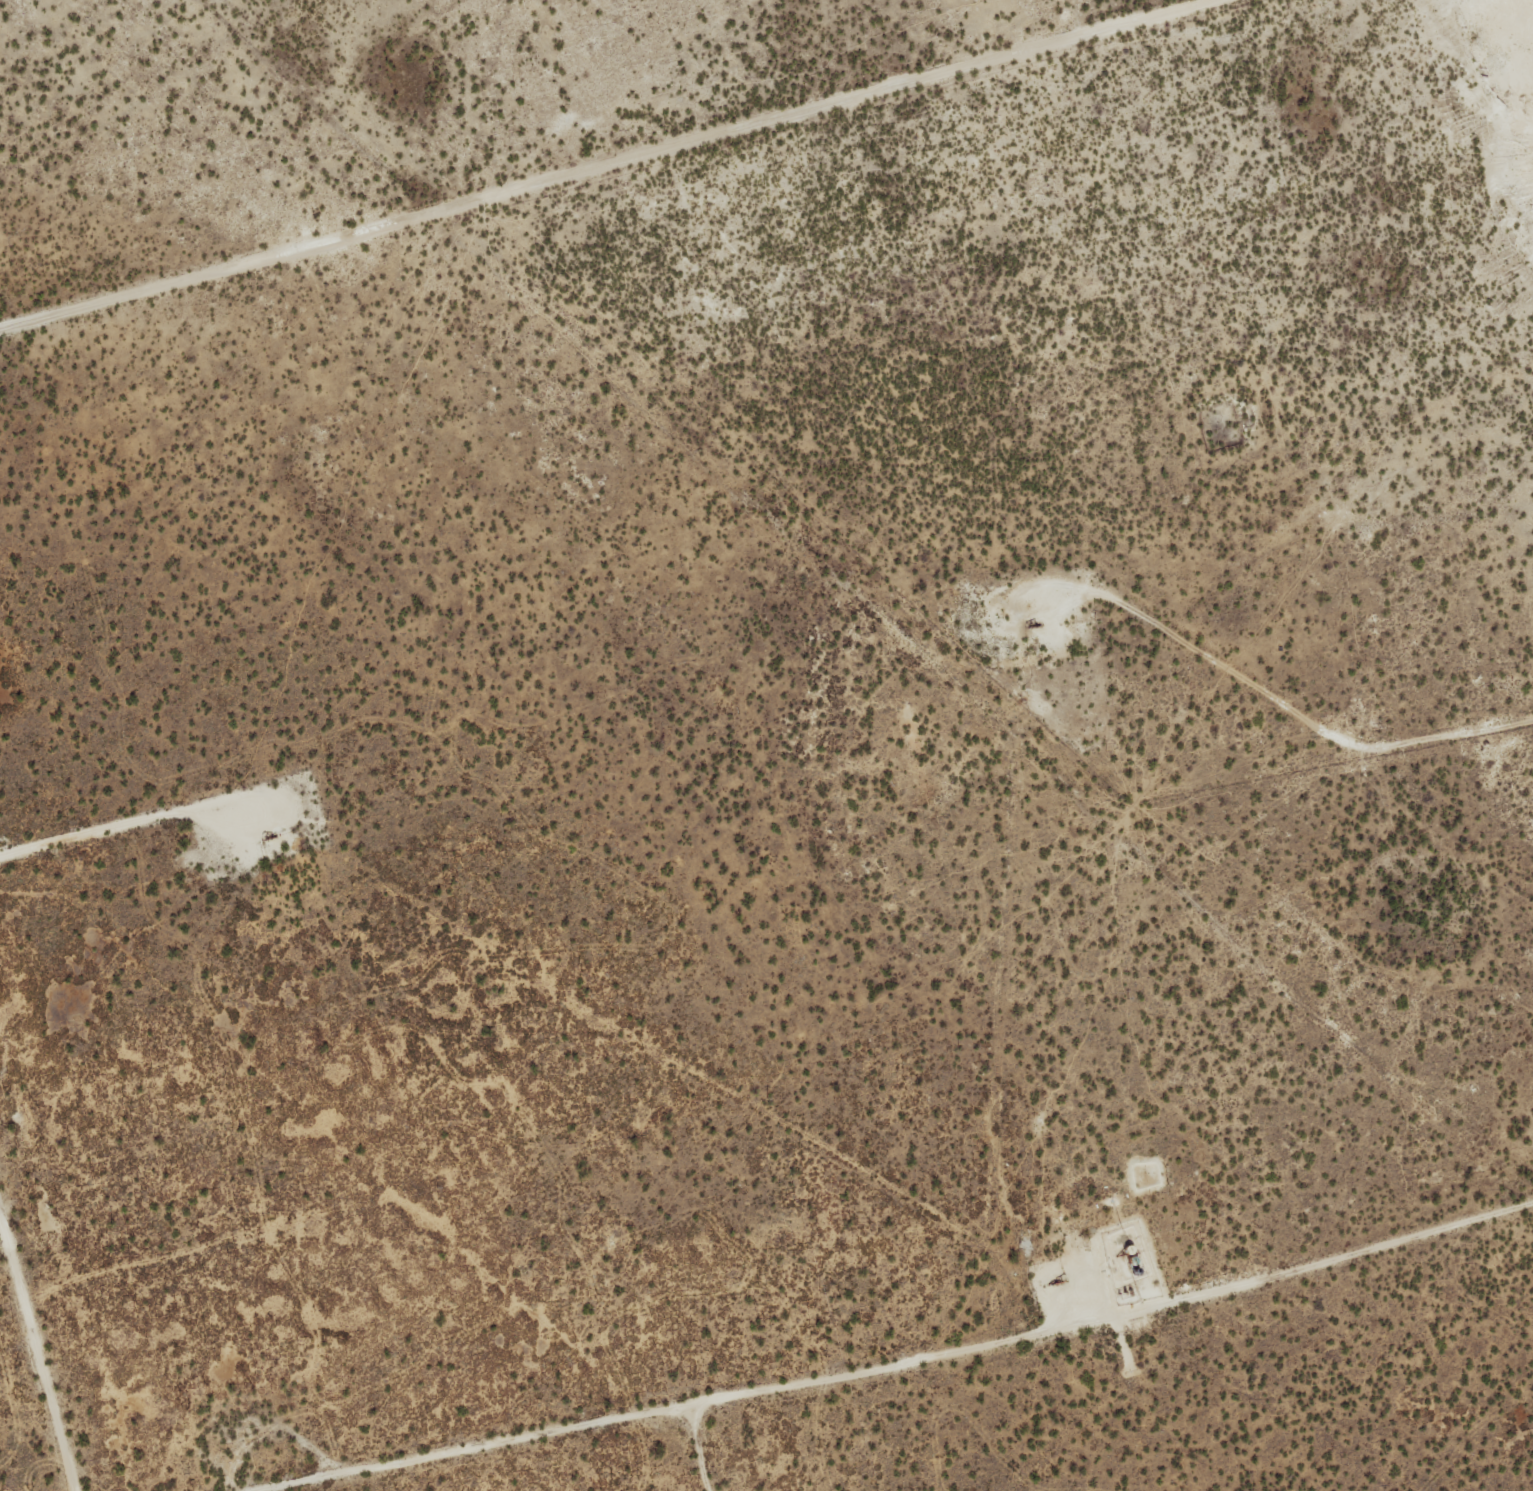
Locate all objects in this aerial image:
road: (612, 166)
road: (36, 1353)
road: (892, 1367)
road: (698, 1449)

